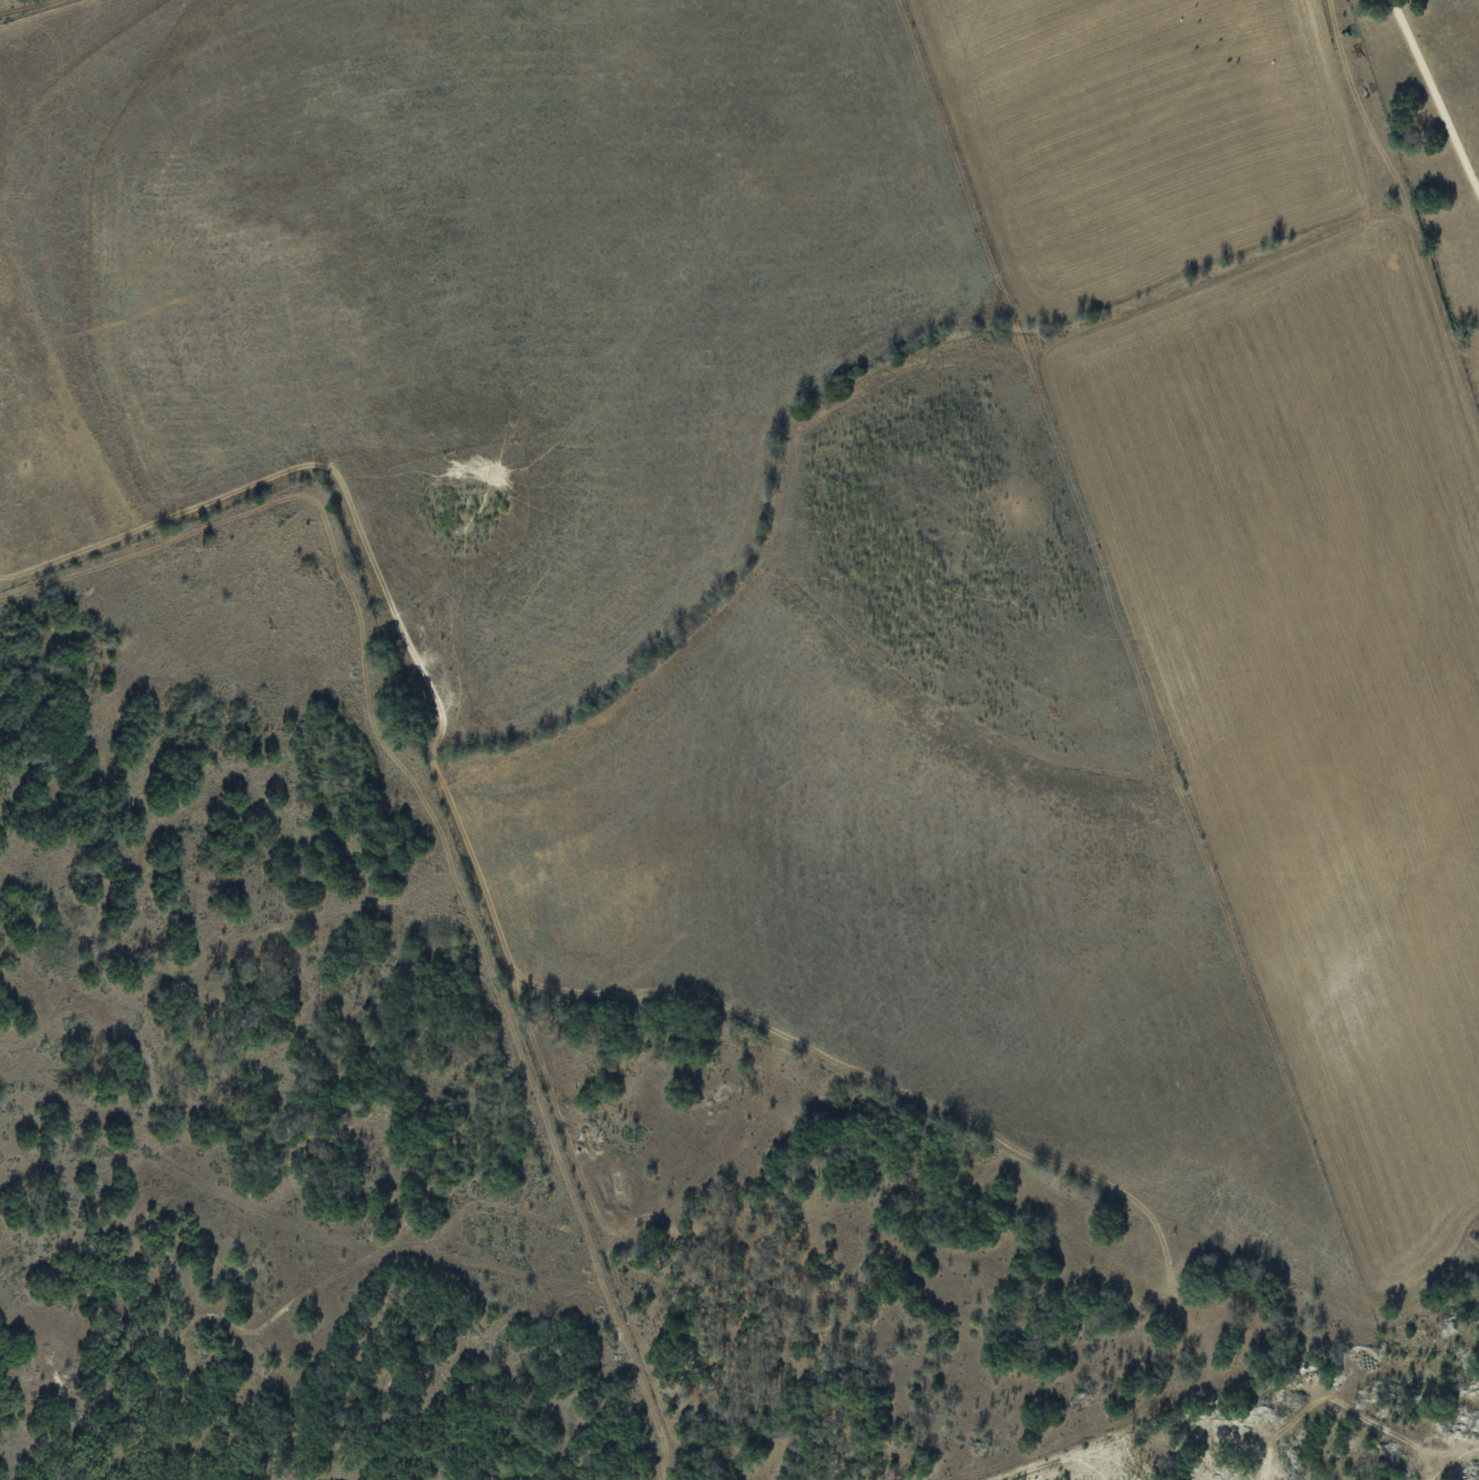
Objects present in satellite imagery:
road: (1434, 96)

